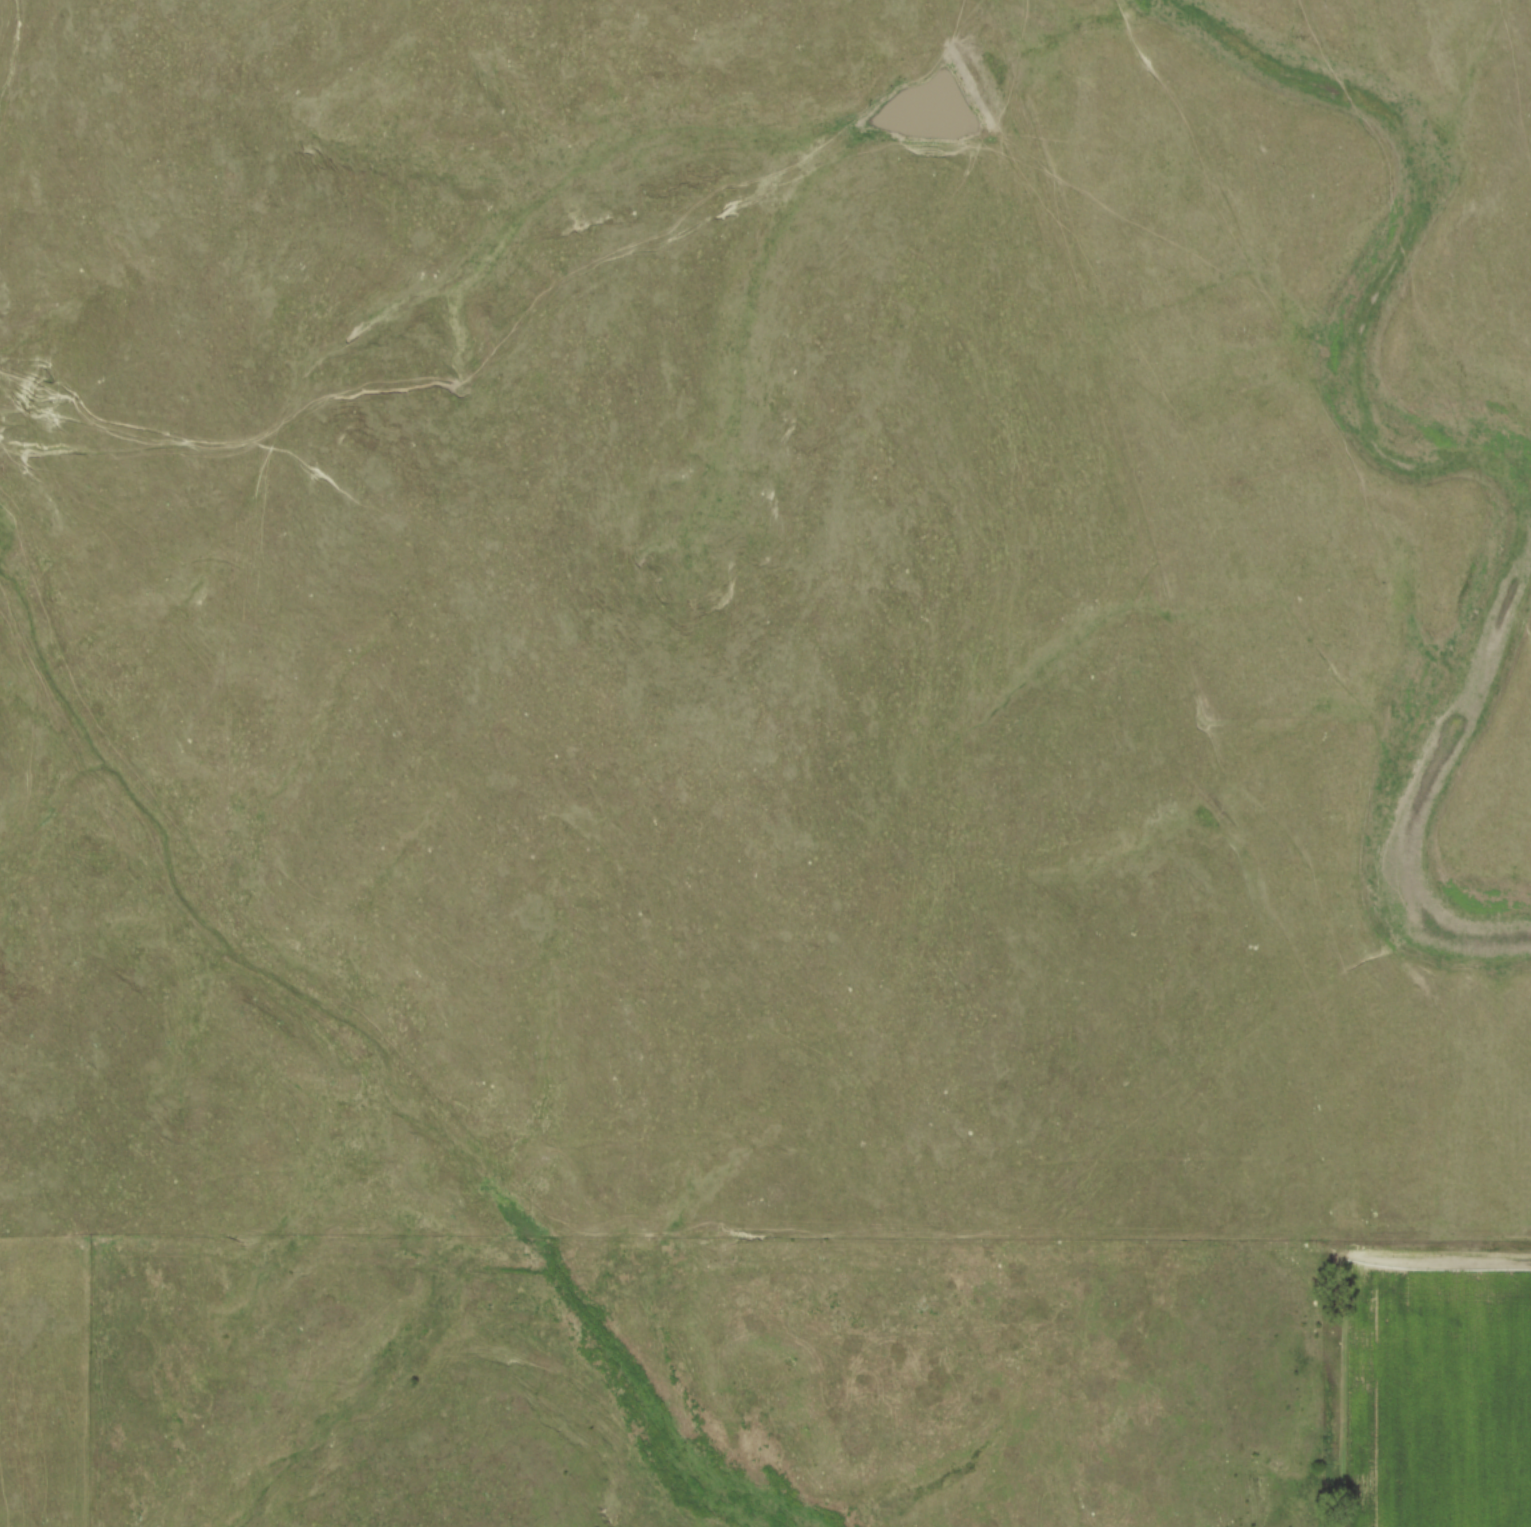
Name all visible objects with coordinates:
crop: (1438, 1391)

